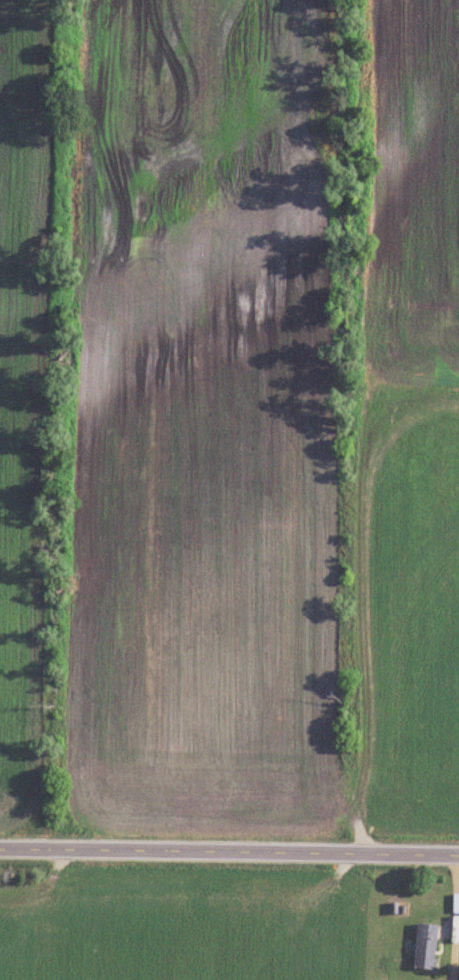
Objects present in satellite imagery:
road: (229, 851)
building: (426, 947)

